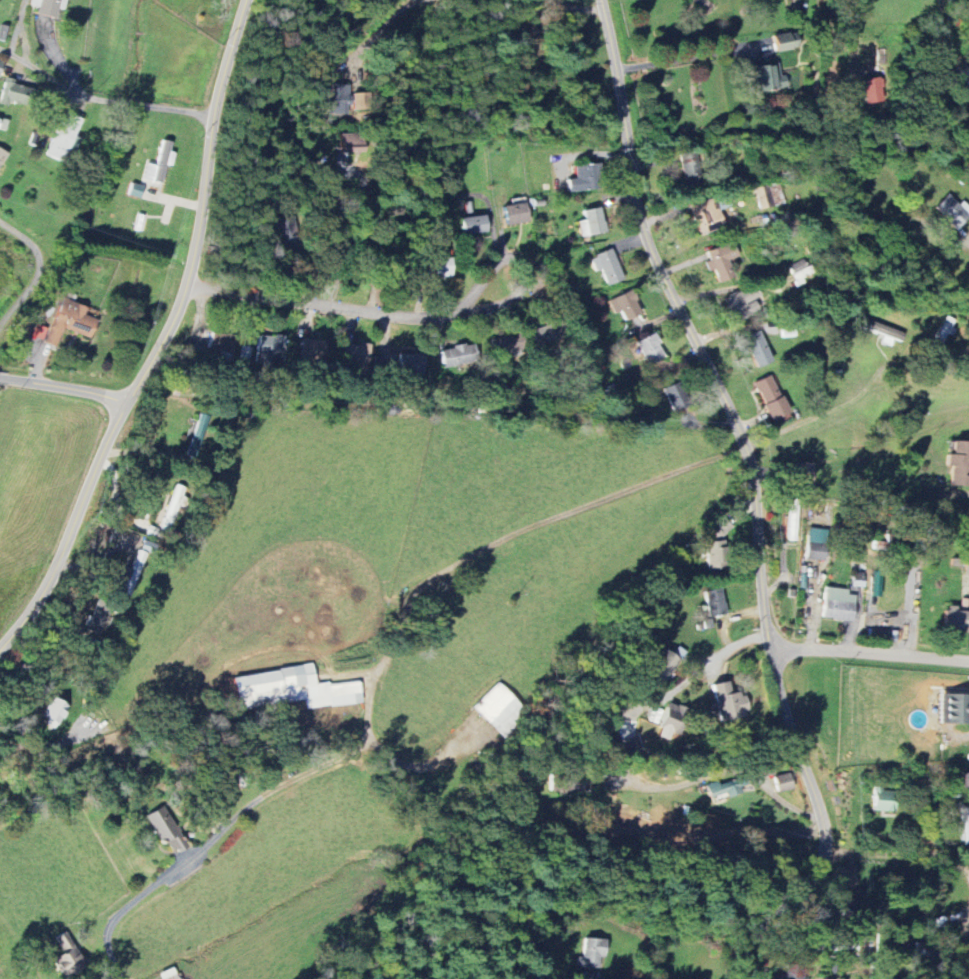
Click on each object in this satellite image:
road: (574, 3)
building: (48, 7)
road: (852, 29)
road: (373, 30)
road: (943, 35)
building: (786, 41)
road: (691, 55)
building: (1, 67)
building: (769, 79)
building: (15, 94)
road: (113, 100)
building: (64, 137)
building: (351, 142)
building: (2, 156)
building: (585, 178)
building: (136, 190)
building: (769, 196)
building: (951, 212)
building: (516, 213)
building: (706, 215)
building: (593, 222)
building: (474, 225)
road: (966, 236)
road: (357, 241)
building: (722, 261)
building: (439, 266)
building: (608, 267)
road: (40, 269)
building: (800, 270)
building: (744, 302)
building: (625, 306)
road: (361, 311)
building: (71, 321)
building: (943, 331)
building: (40, 332)
road: (165, 341)
building: (223, 345)
building: (505, 346)
building: (271, 349)
building: (651, 349)
building: (758, 349)
building: (314, 353)
building: (357, 355)
building: (459, 356)
building: (412, 365)
road: (65, 388)
building: (678, 396)
building: (772, 398)
road: (819, 414)
building: (959, 463)
building: (806, 474)
road: (756, 495)
building: (173, 508)
building: (793, 522)
building: (817, 543)
building: (150, 546)
building: (717, 548)
building: (967, 568)
building: (135, 573)
building: (875, 585)
building: (715, 602)
building: (839, 604)
building: (956, 618)
building: (100, 619)
road: (869, 650)
building: (663, 665)
road: (704, 668)
road: (383, 670)
building: (293, 689)
building: (729, 702)
building: (954, 708)
building: (672, 721)
road: (50, 744)
building: (632, 745)
road: (415, 763)
building: (784, 782)
building: (726, 787)
building: (885, 799)
building: (965, 824)
building: (167, 830)
road: (901, 853)
building: (851, 946)
building: (592, 952)
building: (68, 956)
building: (171, 974)
building: (794, 974)
road: (968, 978)

